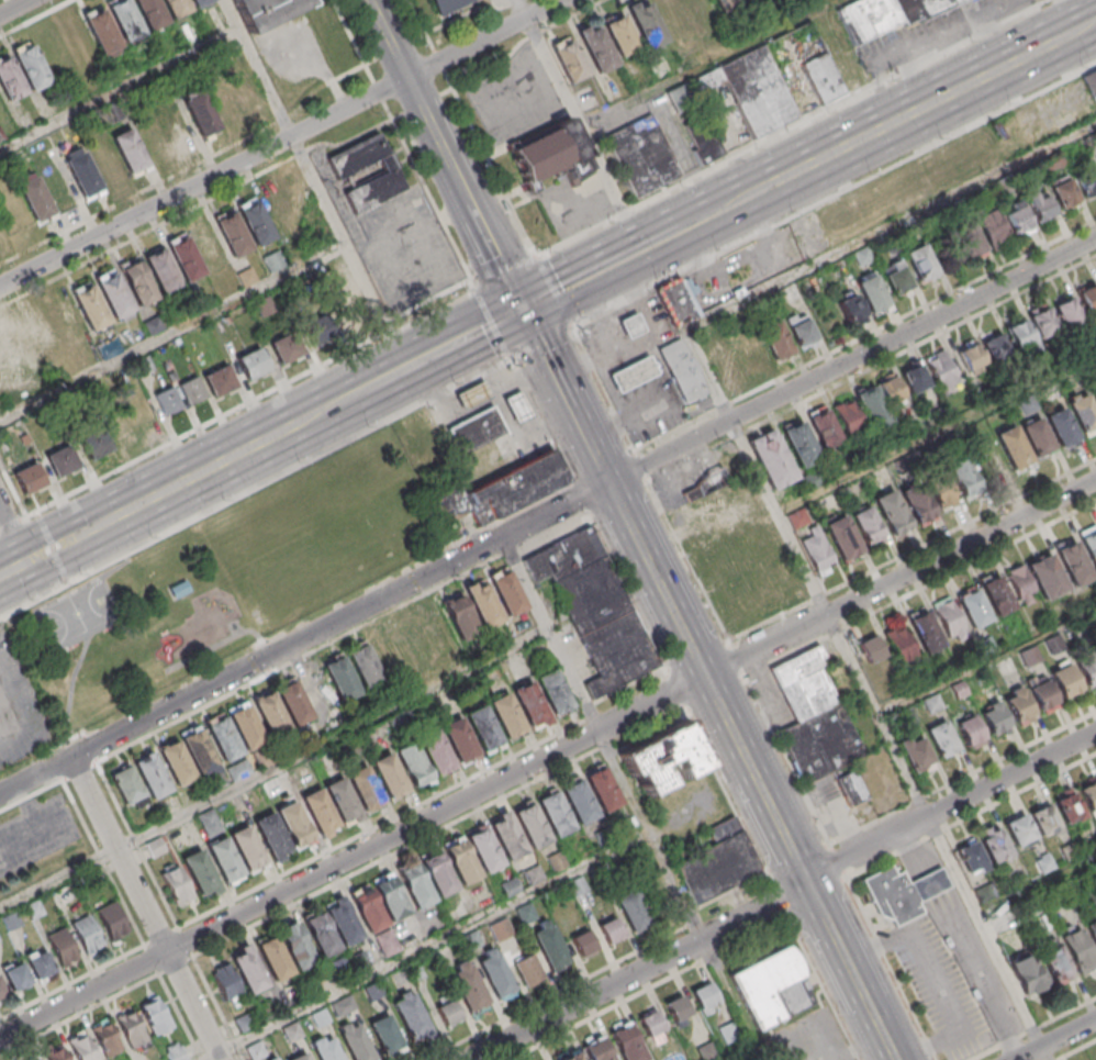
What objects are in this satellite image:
building: (205, 4)
building: (725, 4)
building: (454, 7)
road: (14, 8)
building: (179, 10)
building: (700, 10)
building: (270, 11)
road: (473, 12)
building: (884, 15)
road: (1072, 15)
building: (155, 16)
building: (673, 16)
building: (647, 24)
road: (1093, 24)
building: (131, 26)
building: (620, 35)
building: (107, 38)
road: (390, 38)
road: (524, 40)
road: (355, 41)
building: (596, 47)
building: (569, 59)
road: (706, 63)
building: (32, 64)
building: (10, 77)
building: (821, 78)
building: (1092, 83)
road: (120, 90)
building: (750, 90)
road: (379, 92)
building: (248, 93)
building: (679, 100)
building: (225, 103)
road: (909, 115)
building: (204, 121)
building: (176, 124)
road: (579, 124)
road: (473, 129)
road: (793, 131)
building: (153, 136)
building: (701, 138)
road: (280, 142)
building: (131, 147)
building: (550, 155)
building: (644, 155)
building: (960, 159)
building: (105, 161)
road: (187, 170)
building: (83, 171)
building: (389, 172)
building: (1087, 182)
road: (316, 183)
road: (427, 190)
road: (467, 192)
building: (1064, 193)
building: (36, 196)
road: (834, 196)
building: (1041, 204)
building: (280, 210)
building: (1017, 216)
building: (256, 221)
road: (892, 225)
building: (993, 227)
road: (678, 231)
building: (233, 232)
building: (965, 239)
building: (209, 247)
building: (187, 256)
building: (273, 261)
building: (921, 264)
road: (504, 266)
building: (164, 268)
building: (896, 277)
building: (139, 280)
road: (575, 281)
road: (553, 291)
building: (115, 292)
building: (872, 293)
road: (434, 298)
building: (1088, 299)
building: (679, 303)
building: (92, 304)
building: (850, 306)
traffic signals: (525, 309)
road: (438, 310)
building: (1067, 312)
building: (351, 314)
road: (489, 316)
road: (389, 320)
building: (67, 321)
building: (1042, 321)
building: (633, 325)
building: (801, 327)
road: (485, 328)
road: (570, 330)
building: (45, 332)
road: (174, 332)
building: (320, 332)
road: (393, 332)
building: (1020, 336)
building: (775, 339)
road: (540, 344)
building: (21, 345)
building: (286, 347)
building: (996, 347)
road: (868, 352)
building: (972, 357)
building: (753, 359)
building: (724, 361)
building: (253, 362)
building: (5, 364)
road: (406, 368)
building: (941, 369)
building: (684, 370)
building: (634, 373)
building: (915, 378)
building: (219, 380)
building: (892, 389)
building: (1094, 389)
building: (192, 390)
building: (473, 394)
road: (346, 399)
building: (167, 401)
building: (518, 406)
building: (872, 408)
building: (1084, 413)
road: (536, 416)
building: (848, 416)
building: (120, 424)
road: (204, 426)
building: (824, 426)
building: (1063, 428)
building: (477, 431)
road: (937, 435)
building: (1038, 437)
building: (801, 443)
building: (94, 444)
building: (1014, 448)
building: (771, 458)
building: (61, 460)
road: (201, 473)
building: (29, 477)
building: (964, 478)
road: (609, 482)
building: (705, 482)
road: (256, 484)
building: (514, 486)
road: (13, 490)
building: (941, 491)
road: (577, 495)
building: (447, 502)
building: (918, 504)
road: (38, 513)
building: (892, 513)
road: (512, 514)
road: (10, 524)
building: (868, 525)
road: (45, 529)
road: (13, 534)
building: (843, 537)
building: (1089, 543)
road: (52, 547)
road: (51, 548)
building: (818, 551)
building: (566, 555)
building: (1074, 564)
road: (60, 565)
road: (13, 568)
building: (1047, 576)
road: (67, 580)
park: (227, 582)
building: (1021, 584)
building: (749, 585)
building: (180, 590)
building: (506, 591)
building: (996, 594)
building: (592, 595)
road: (627, 595)
building: (483, 603)
building: (973, 607)
park: (79, 616)
building: (459, 616)
building: (949, 620)
building: (926, 632)
road: (340, 635)
road: (223, 643)
building: (899, 643)
road: (289, 645)
building: (871, 648)
building: (617, 652)
building: (366, 666)
building: (1087, 670)
building: (342, 678)
building: (1065, 680)
road: (711, 684)
road: (628, 685)
building: (555, 690)
road: (752, 692)
road: (676, 693)
road: (71, 694)
road: (866, 694)
building: (1042, 695)
building: (294, 701)
building: (532, 702)
building: (1018, 705)
road: (589, 712)
building: (271, 713)
building: (507, 714)
building: (814, 717)
building: (994, 717)
building: (247, 726)
building: (484, 726)
building: (971, 733)
building: (224, 737)
building: (460, 738)
building: (942, 739)
road: (602, 740)
building: (200, 749)
building: (436, 751)
road: (546, 756)
building: (663, 758)
building: (177, 761)
building: (413, 762)
road: (272, 768)
building: (152, 773)
building: (390, 774)
building: (128, 785)
building: (366, 786)
building: (604, 788)
building: (851, 788)
road: (32, 796)
road: (728, 796)
building: (1089, 796)
building: (343, 799)
building: (580, 801)
building: (1069, 807)
building: (320, 810)
building: (556, 812)
building: (1044, 821)
building: (210, 822)
building: (295, 822)
road: (381, 824)
building: (533, 824)
building: (725, 829)
building: (1019, 830)
building: (272, 834)
parking lot: (36, 835)
building: (506, 835)
road: (138, 844)
building: (247, 846)
building: (156, 847)
building: (995, 847)
building: (485, 849)
building: (225, 858)
building: (971, 858)
building: (462, 860)
road: (103, 862)
building: (718, 867)
building: (199, 870)
building: (437, 873)
building: (930, 883)
building: (177, 884)
building: (416, 884)
building: (578, 886)
road: (1037, 888)
building: (63, 895)
building: (893, 895)
building: (392, 897)
road: (784, 899)
road: (781, 901)
building: (367, 907)
building: (34, 908)
road: (145, 908)
building: (635, 910)
building: (111, 918)
building: (12, 920)
building: (344, 922)
building: (1093, 928)
building: (611, 930)
building: (87, 934)
building: (321, 934)
building: (387, 942)
road: (428, 944)
building: (583, 944)
building: (61, 945)
building: (297, 946)
building: (549, 946)
building: (1078, 950)
building: (275, 957)
building: (1054, 961)
building: (38, 962)
building: (527, 969)
building: (249, 970)
building: (495, 973)
building: (1027, 973)
building: (16, 975)
road: (71, 981)
building: (227, 984)
building: (467, 986)
road: (652, 986)
building: (773, 986)
road: (825, 988)
building: (2, 989)
parking lot: (942, 989)
building: (705, 997)
road: (734, 1001)
building: (343, 1005)
building: (679, 1011)
building: (448, 1012)
road: (79, 1013)
building: (155, 1015)
building: (411, 1015)
road: (1065, 1015)
road: (179, 1016)
building: (652, 1026)
building: (133, 1030)
building: (385, 1034)
building: (729, 1034)
building: (107, 1036)
parking lot: (809, 1039)
road: (1058, 1040)
building: (356, 1042)
building: (627, 1042)
building: (325, 1048)
building: (82, 1049)
building: (596, 1049)
road: (1078, 1051)
building: (55, 1052)
building: (176, 1052)
building: (708, 1052)
road: (745, 1053)
building: (33, 1057)
building: (300, 1057)
building: (572, 1057)
building: (275, 1059)

